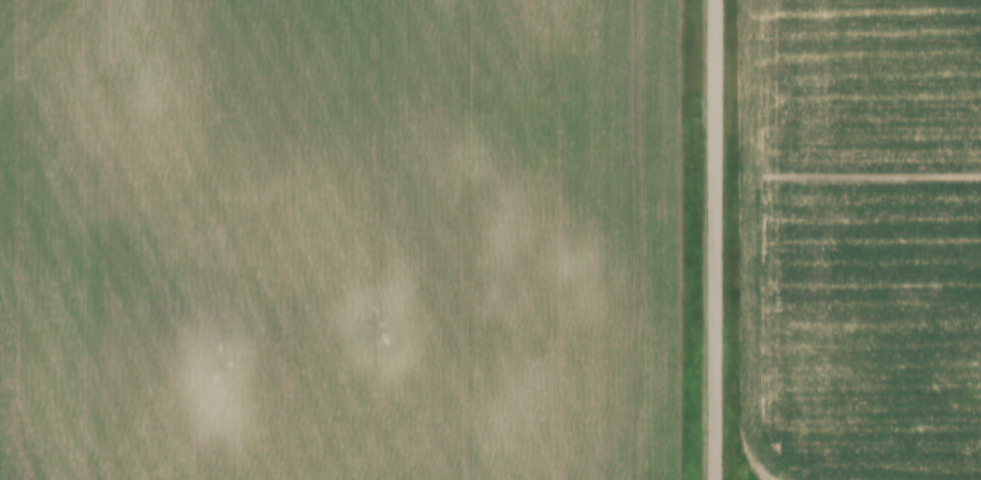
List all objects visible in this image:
road: (718, 239)

